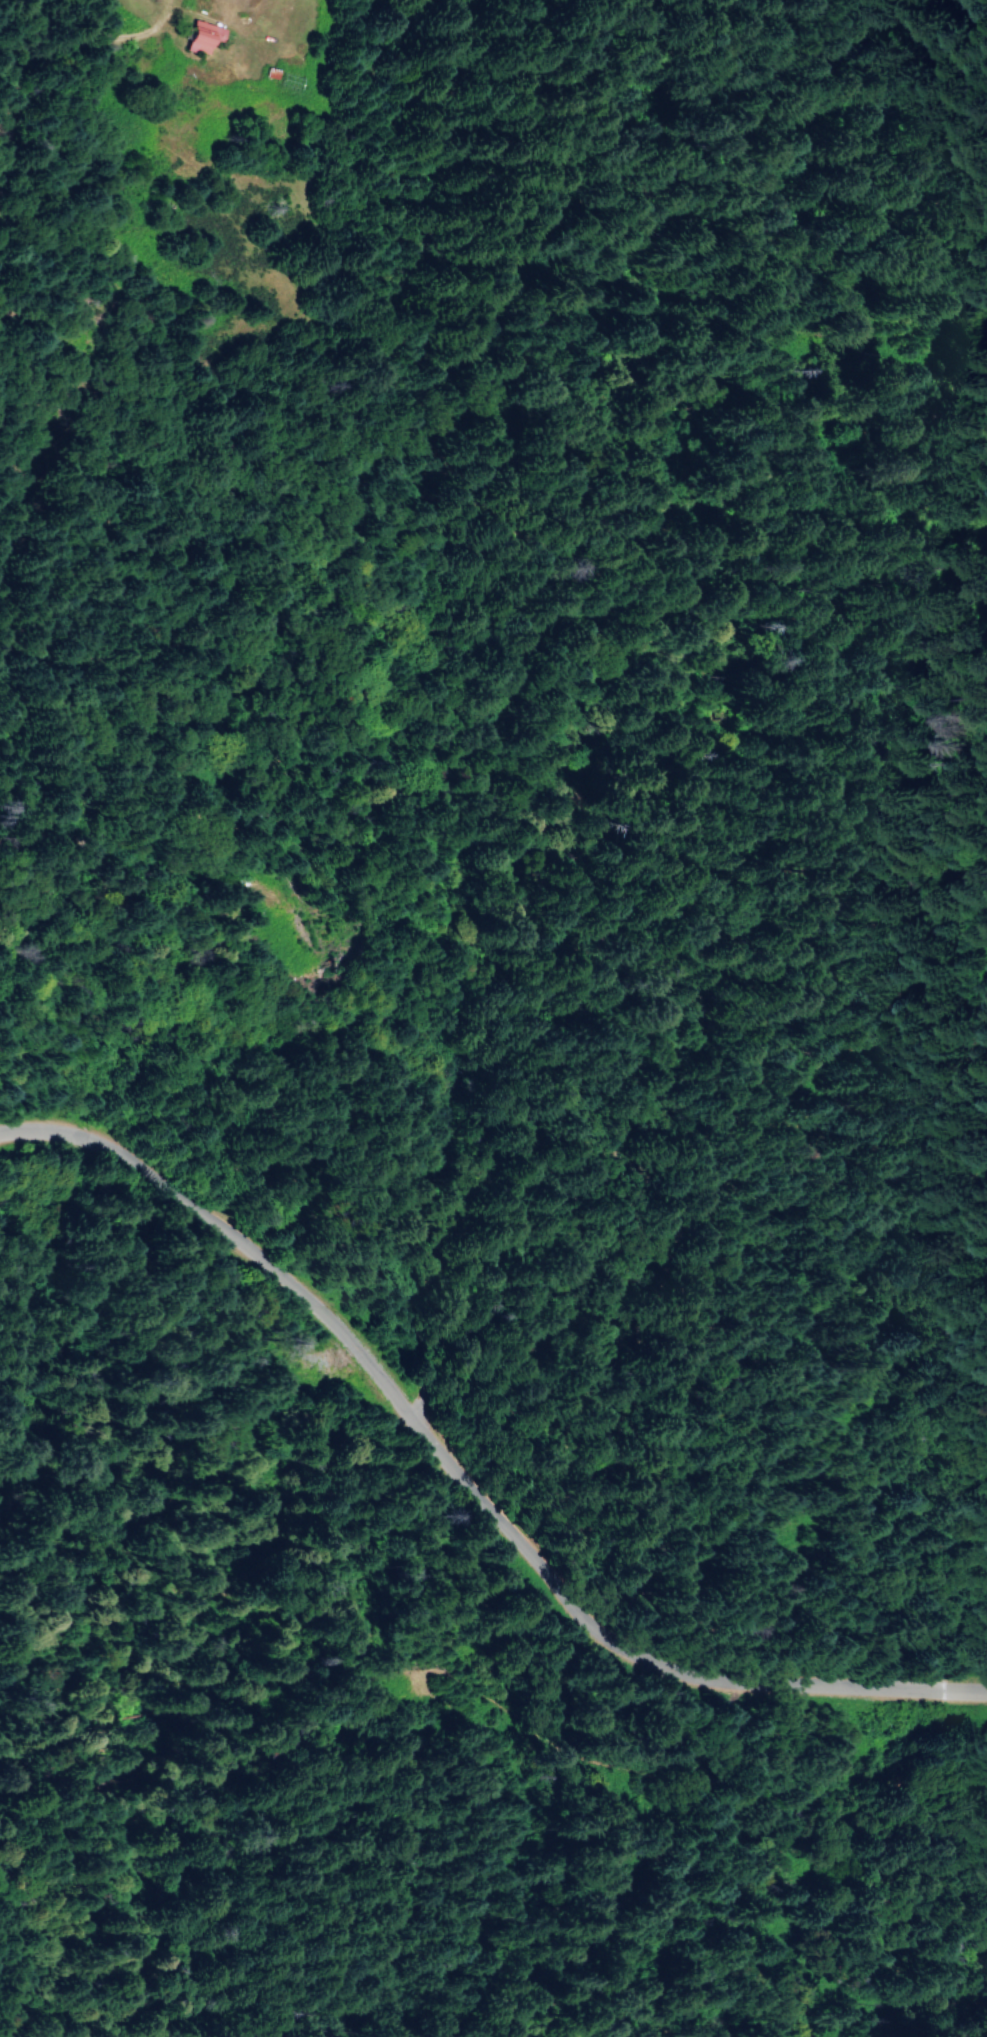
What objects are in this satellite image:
building: (203, 38)
road: (32, 85)
road: (257, 595)
road: (191, 868)
road: (107, 871)
road: (466, 1479)
road: (898, 1558)
park: (986, 1789)

